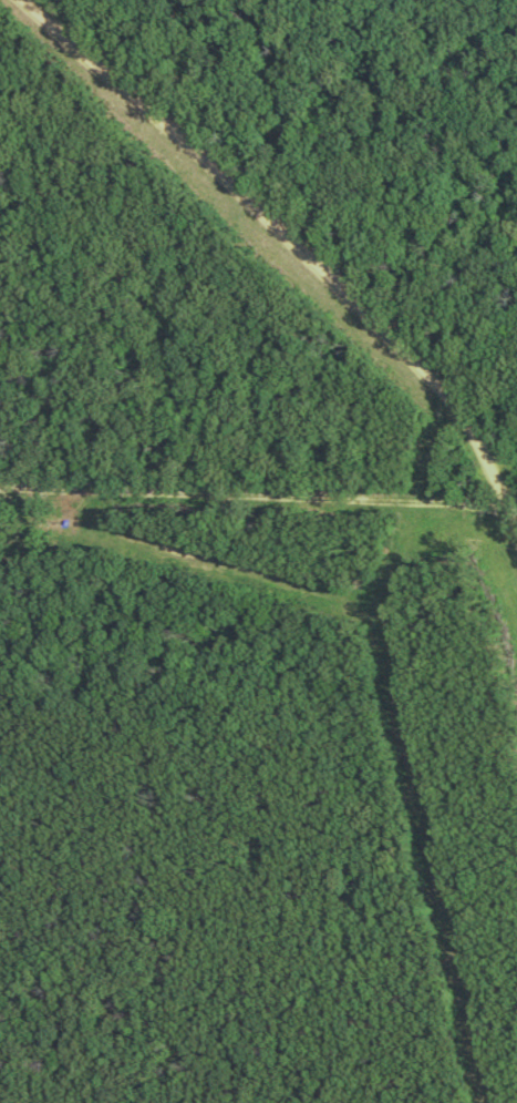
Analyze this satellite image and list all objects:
road: (293, 245)

